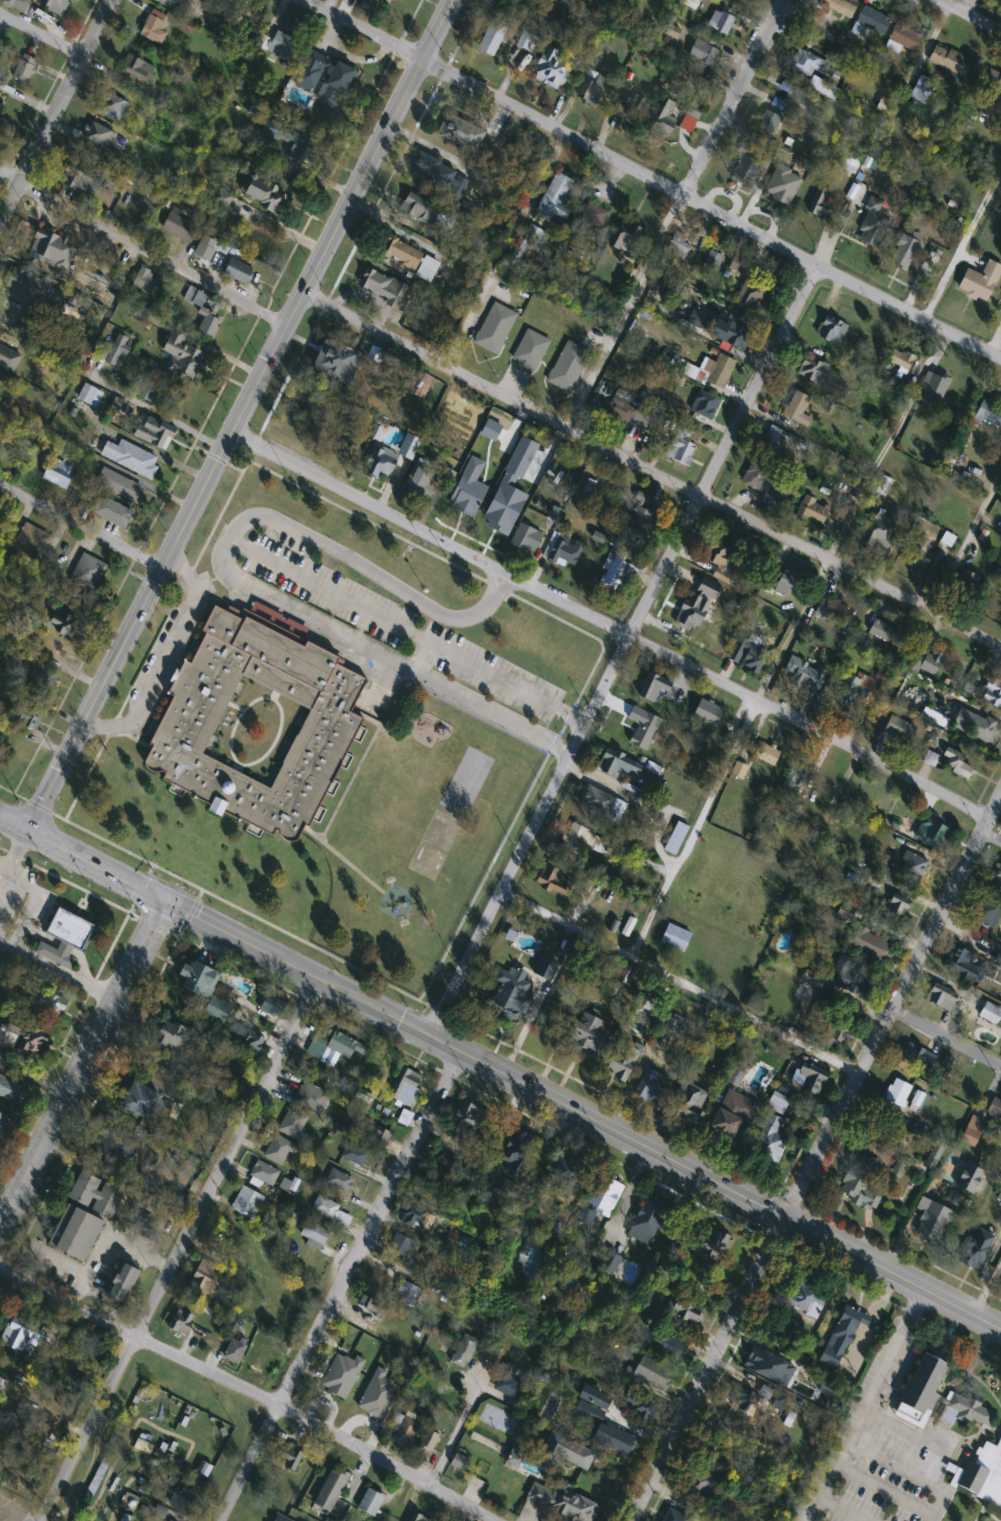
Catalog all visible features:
building: (387, 2)
building: (16, 4)
building: (54, 4)
building: (176, 5)
building: (839, 5)
road: (966, 6)
road: (970, 15)
building: (722, 20)
building: (871, 20)
building: (154, 28)
road: (362, 29)
road: (40, 34)
building: (493, 37)
building: (903, 37)
building: (280, 45)
building: (703, 53)
building: (24, 68)
building: (553, 68)
building: (137, 69)
building: (813, 72)
building: (324, 76)
building: (593, 89)
building: (922, 89)
building: (997, 91)
building: (2, 96)
road: (731, 97)
building: (797, 103)
building: (111, 105)
building: (633, 105)
road: (54, 109)
building: (661, 119)
building: (771, 124)
building: (460, 132)
building: (99, 138)
building: (289, 139)
building: (790, 142)
building: (748, 166)
building: (433, 170)
building: (79, 179)
building: (264, 194)
building: (555, 195)
building: (221, 198)
building: (818, 203)
building: (418, 208)
road: (709, 208)
building: (595, 220)
building: (873, 225)
building: (179, 228)
building: (625, 237)
road: (963, 246)
road: (143, 247)
building: (205, 248)
building: (678, 248)
building: (51, 249)
building: (904, 252)
building: (402, 254)
building: (737, 265)
building: (237, 270)
building: (707, 271)
building: (145, 281)
building: (980, 281)
building: (21, 282)
building: (388, 290)
building: (754, 294)
building: (195, 297)
building: (1000, 306)
road: (623, 311)
building: (698, 318)
building: (494, 326)
building: (209, 327)
building: (831, 330)
building: (735, 336)
building: (530, 347)
building: (115, 349)
building: (181, 355)
building: (8, 358)
building: (336, 361)
building: (899, 361)
building: (568, 364)
building: (812, 370)
building: (720, 372)
building: (932, 388)
building: (146, 390)
building: (90, 396)
building: (705, 405)
road: (153, 408)
building: (797, 409)
building: (622, 412)
building: (989, 413)
road: (238, 415)
building: (490, 428)
building: (153, 433)
building: (781, 442)
road: (885, 445)
building: (681, 450)
building: (130, 458)
building: (456, 462)
building: (380, 463)
building: (59, 468)
road: (650, 472)
building: (756, 476)
building: (421, 483)
building: (884, 485)
building: (120, 486)
building: (468, 486)
building: (509, 487)
building: (812, 509)
building: (112, 512)
building: (640, 515)
road: (81, 524)
building: (880, 532)
building: (525, 539)
building: (33, 541)
building: (564, 548)
building: (923, 554)
building: (719, 556)
building: (618, 558)
building: (88, 572)
road: (239, 577)
building: (787, 583)
building: (961, 585)
building: (708, 587)
building: (831, 608)
building: (691, 613)
building: (62, 619)
parking lot: (395, 623)
road: (409, 630)
road: (621, 630)
building: (881, 630)
road: (794, 632)
railway: (119, 641)
road: (622, 649)
road: (164, 652)
building: (748, 655)
building: (930, 663)
building: (804, 673)
road: (880, 676)
building: (654, 689)
building: (852, 692)
building: (993, 693)
building: (35, 697)
building: (709, 712)
building: (331, 720)
building: (643, 727)
building: (899, 728)
building: (986, 730)
building: (765, 753)
building: (931, 758)
building: (614, 762)
building: (797, 774)
park: (466, 779)
road: (639, 802)
building: (602, 805)
road: (14, 823)
road: (697, 830)
building: (676, 838)
building: (580, 842)
road: (17, 848)
building: (912, 865)
building: (996, 875)
building: (552, 881)
road: (18, 887)
parking lot: (11, 888)
traffic signals: (164, 901)
parking lot: (35, 902)
building: (897, 904)
road: (27, 910)
building: (987, 915)
building: (63, 934)
building: (674, 938)
building: (869, 944)
building: (959, 960)
building: (542, 967)
road: (55, 969)
road: (680, 982)
building: (848, 982)
building: (204, 989)
building: (940, 999)
building: (507, 1000)
building: (49, 1005)
building: (991, 1014)
building: (671, 1026)
building: (837, 1035)
building: (170, 1036)
building: (587, 1036)
building: (24, 1037)
building: (244, 1037)
road: (946, 1038)
building: (337, 1046)
building: (918, 1057)
road: (79, 1058)
building: (622, 1061)
road: (514, 1078)
building: (809, 1079)
building: (652, 1087)
building: (407, 1088)
building: (9, 1090)
building: (897, 1093)
building: (140, 1102)
building: (688, 1104)
building: (995, 1108)
building: (302, 1110)
building: (3, 1121)
building: (469, 1123)
building: (724, 1125)
building: (972, 1131)
building: (375, 1133)
building: (770, 1141)
building: (898, 1143)
building: (114, 1147)
building: (278, 1150)
building: (518, 1153)
building: (354, 1154)
road: (816, 1159)
building: (263, 1173)
building: (562, 1179)
building: (968, 1179)
building: (338, 1181)
building: (859, 1182)
building: (94, 1195)
building: (999, 1197)
building: (599, 1199)
building: (246, 1203)
building: (331, 1214)
building: (411, 1217)
building: (647, 1220)
building: (931, 1222)
building: (142, 1227)
building: (74, 1234)
building: (314, 1236)
building: (455, 1242)
building: (400, 1245)
building: (710, 1245)
road: (178, 1250)
road: (141, 1251)
building: (974, 1254)
road: (62, 1262)
building: (608, 1263)
building: (204, 1277)
building: (121, 1283)
road: (336, 1283)
building: (406, 1293)
building: (805, 1300)
building: (374, 1305)
building: (685, 1310)
building: (181, 1321)
building: (14, 1329)
building: (842, 1335)
building: (669, 1347)
building: (234, 1351)
building: (652, 1373)
building: (0, 1376)
building: (508, 1383)
road: (247, 1387)
building: (934, 1392)
building: (446, 1395)
building: (745, 1401)
road: (863, 1403)
building: (375, 1411)
road: (457, 1422)
building: (602, 1427)
building: (406, 1430)
road: (919, 1436)
building: (428, 1441)
building: (713, 1449)
parking lot: (876, 1451)
building: (565, 1452)
building: (288, 1455)
building: (458, 1462)
building: (980, 1471)
building: (481, 1472)
road: (908, 1473)
building: (701, 1487)
road: (881, 1487)
building: (330, 1489)
building: (180, 1502)
building: (370, 1503)
building: (559, 1503)
road: (842, 1508)
building: (677, 1516)
building: (416, 1518)
building: (280, 1519)

